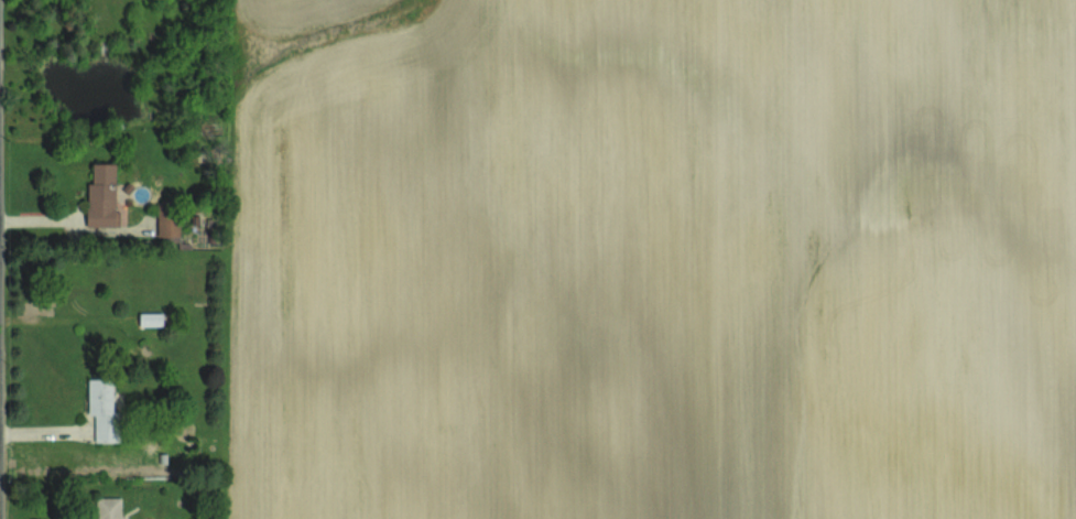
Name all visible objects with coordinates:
building: (102, 195)
road: (58, 218)
building: (169, 219)
building: (150, 318)
building: (102, 409)
building: (108, 507)

